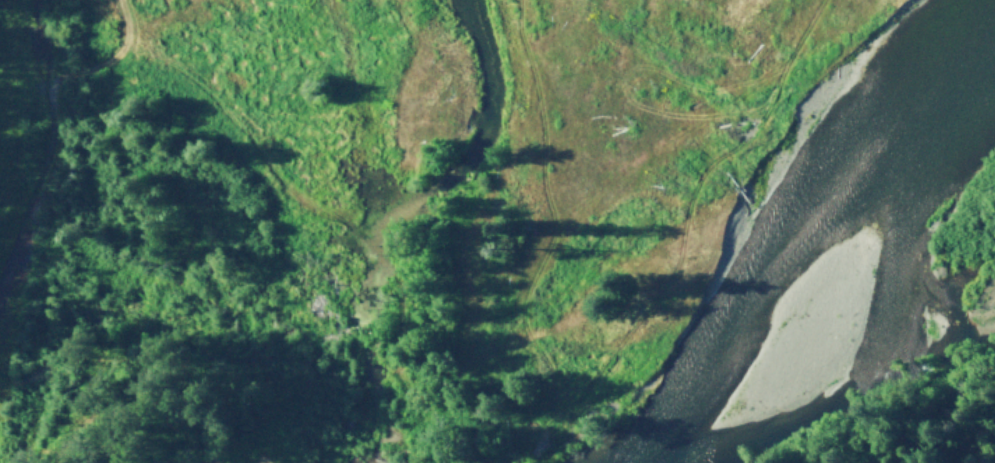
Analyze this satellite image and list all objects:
river: (7, 112)
river: (896, 318)

